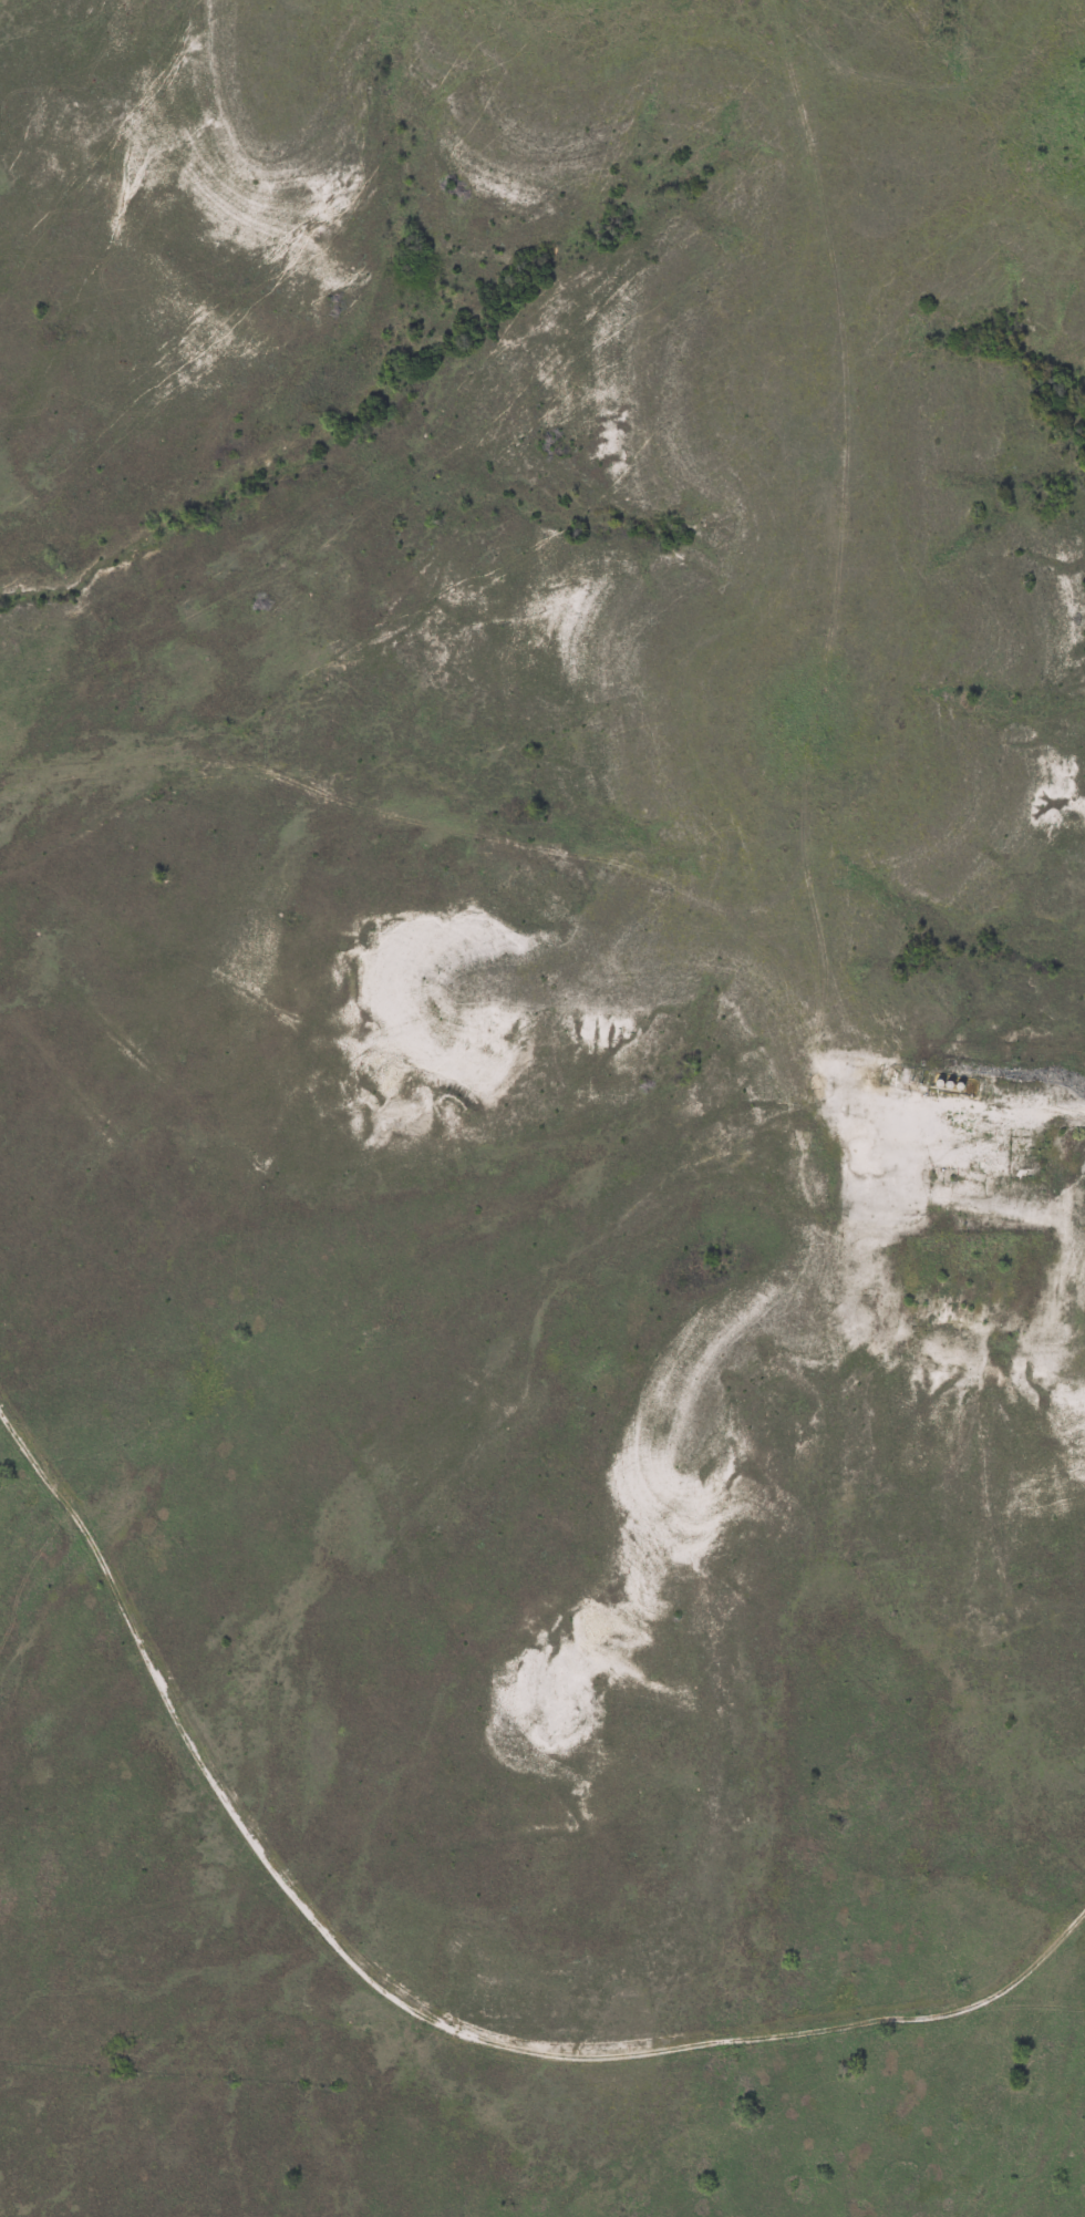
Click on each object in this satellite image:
road: (988, 1110)
road: (403, 2000)

